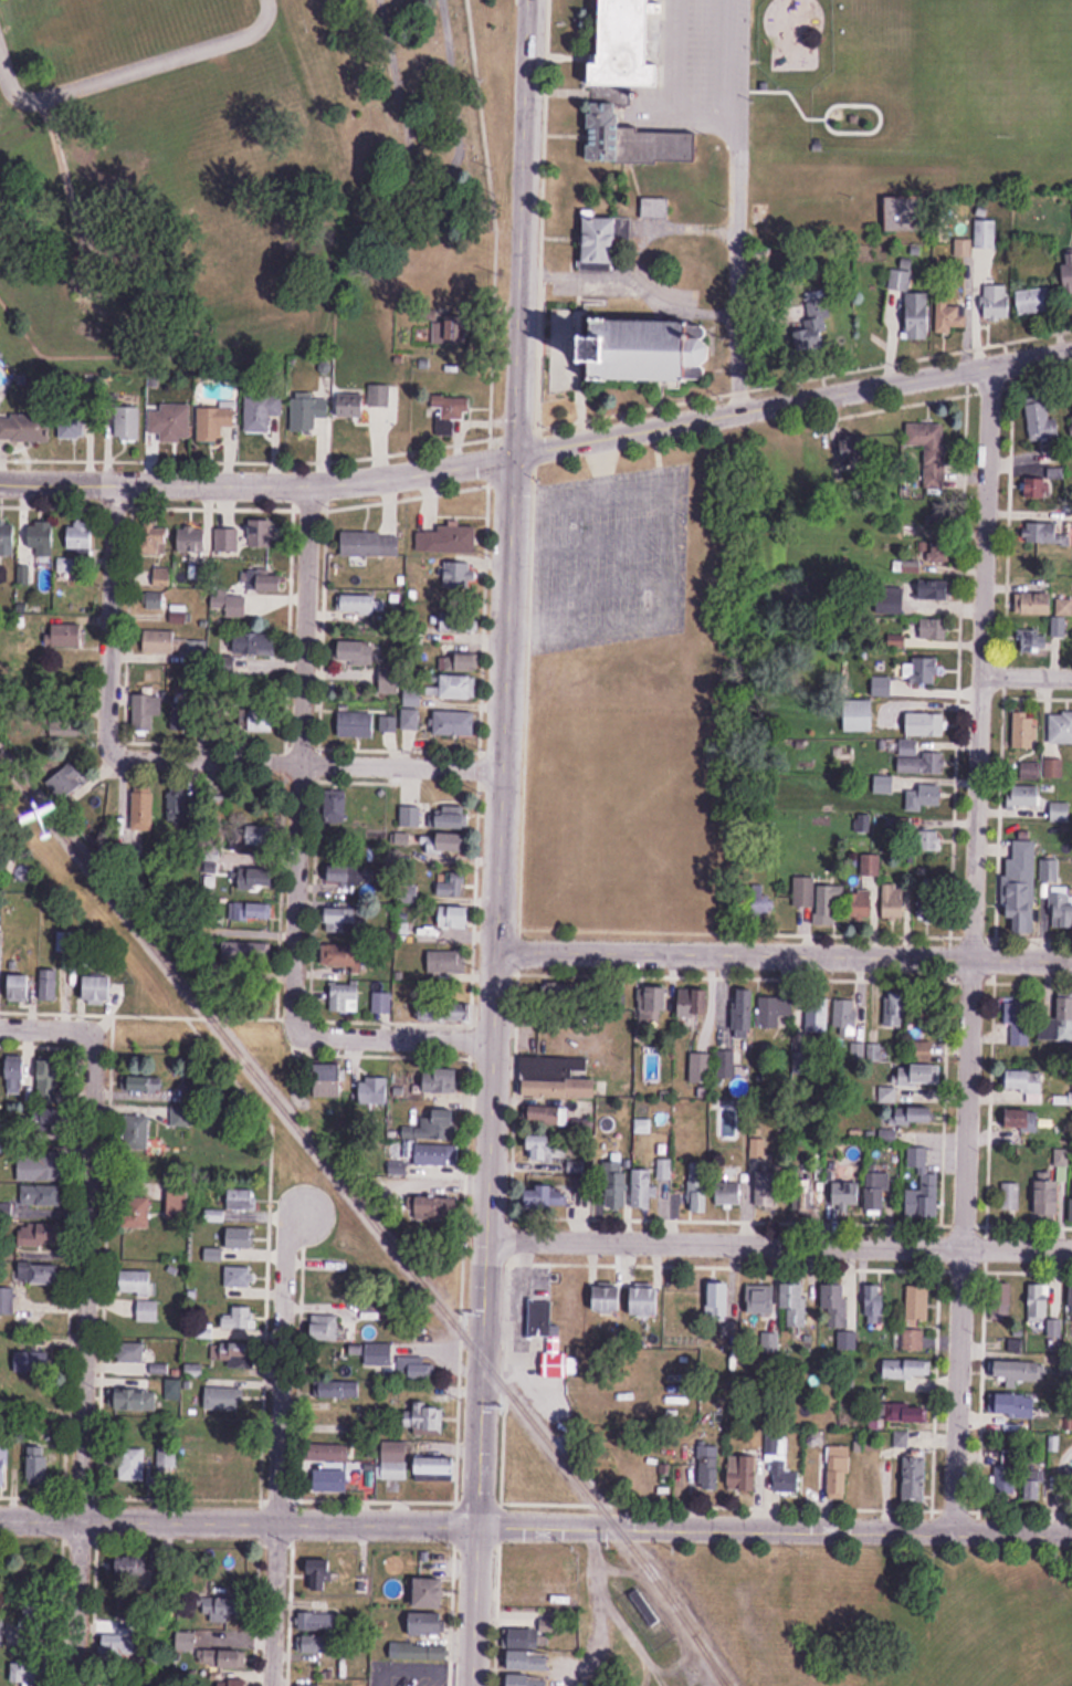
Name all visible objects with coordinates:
building: (634, 45)
road: (137, 69)
building: (608, 130)
park: (237, 153)
road: (729, 203)
building: (655, 207)
building: (907, 212)
road: (523, 224)
building: (603, 239)
building: (1068, 272)
building: (900, 280)
building: (1034, 301)
building: (995, 302)
building: (956, 313)
building: (917, 315)
building: (453, 328)
building: (800, 334)
building: (650, 348)
building: (565, 368)
road: (792, 394)
building: (383, 400)
building: (350, 405)
building: (452, 409)
building: (308, 411)
building: (262, 412)
building: (1041, 419)
building: (73, 422)
building: (170, 422)
building: (214, 422)
building: (127, 423)
building: (24, 428)
building: (931, 447)
building: (854, 450)
road: (258, 482)
building: (926, 506)
building: (80, 535)
building: (1044, 535)
building: (154, 537)
building: (41, 538)
building: (244, 538)
building: (8, 540)
building: (192, 540)
building: (449, 540)
building: (370, 544)
building: (939, 552)
building: (458, 575)
building: (162, 577)
building: (266, 582)
building: (936, 590)
building: (153, 601)
building: (362, 604)
building: (1048, 604)
building: (229, 606)
building: (178, 614)
road: (108, 615)
building: (460, 621)
building: (1055, 627)
building: (933, 628)
building: (69, 636)
building: (1034, 642)
building: (255, 643)
building: (176, 646)
building: (358, 652)
building: (922, 670)
road: (1026, 671)
building: (390, 680)
building: (883, 685)
building: (459, 687)
road: (503, 695)
building: (412, 697)
building: (145, 713)
building: (860, 715)
building: (183, 716)
building: (263, 720)
building: (410, 720)
building: (455, 723)
building: (925, 723)
building: (356, 725)
building: (1060, 727)
building: (64, 733)
road: (301, 757)
building: (918, 760)
road: (305, 761)
building: (1053, 768)
building: (1034, 771)
building: (65, 782)
building: (1023, 795)
building: (924, 797)
building: (337, 803)
building: (141, 807)
building: (179, 807)
building: (1060, 811)
building: (410, 817)
building: (451, 817)
building: (261, 837)
building: (926, 840)
building: (448, 844)
building: (255, 873)
building: (345, 875)
building: (449, 887)
building: (1020, 887)
building: (819, 900)
building: (895, 901)
building: (932, 903)
building: (761, 905)
building: (1061, 907)
building: (252, 911)
building: (455, 918)
building: (341, 920)
road: (973, 942)
road: (784, 950)
building: (246, 951)
building: (340, 955)
building: (446, 962)
building: (49, 984)
building: (22, 987)
building: (99, 989)
building: (568, 991)
building: (343, 996)
building: (381, 1003)
building: (653, 1003)
building: (690, 1007)
building: (445, 1013)
building: (744, 1013)
building: (777, 1013)
building: (894, 1013)
building: (817, 1016)
building: (847, 1017)
building: (1019, 1022)
building: (1058, 1023)
road: (48, 1029)
road: (390, 1034)
building: (726, 1064)
building: (701, 1068)
building: (15, 1072)
building: (921, 1075)
building: (55, 1080)
building: (327, 1080)
building: (555, 1081)
building: (1023, 1081)
building: (442, 1082)
building: (148, 1085)
building: (371, 1090)
building: (187, 1106)
building: (923, 1113)
building: (549, 1114)
building: (1023, 1118)
building: (438, 1124)
building: (582, 1128)
building: (136, 1132)
building: (540, 1148)
building: (438, 1154)
building: (39, 1163)
building: (575, 1166)
building: (642, 1188)
building: (697, 1188)
building: (768, 1190)
building: (611, 1193)
building: (731, 1193)
building: (869, 1194)
building: (40, 1195)
building: (1010, 1195)
building: (549, 1196)
building: (1048, 1196)
building: (924, 1197)
building: (242, 1200)
building: (178, 1206)
building: (438, 1209)
building: (135, 1212)
railway: (369, 1216)
building: (39, 1236)
building: (240, 1237)
road: (779, 1242)
building: (39, 1273)
building: (239, 1277)
building: (137, 1281)
building: (609, 1298)
building: (760, 1299)
building: (647, 1300)
building: (719, 1300)
building: (875, 1300)
building: (7, 1301)
building: (1069, 1301)
building: (1039, 1302)
building: (917, 1303)
building: (796, 1306)
building: (838, 1306)
building: (148, 1311)
road: (485, 1315)
building: (240, 1318)
building: (540, 1318)
building: (324, 1328)
building: (914, 1340)
building: (769, 1342)
building: (129, 1352)
building: (235, 1353)
building: (370, 1354)
road: (86, 1359)
building: (32, 1363)
building: (556, 1365)
building: (414, 1368)
building: (906, 1369)
building: (1021, 1374)
building: (340, 1389)
building: (136, 1400)
building: (225, 1400)
building: (1018, 1406)
building: (908, 1413)
building: (423, 1418)
building: (900, 1438)
building: (328, 1452)
road: (278, 1456)
building: (167, 1457)
building: (396, 1460)
building: (780, 1463)
building: (3, 1465)
building: (39, 1465)
building: (133, 1465)
building: (708, 1466)
building: (434, 1468)
building: (1010, 1468)
building: (835, 1470)
building: (744, 1472)
building: (915, 1479)
building: (332, 1480)
building: (1033, 1486)
building: (1068, 1487)
road: (237, 1518)
road: (771, 1528)
road: (853, 1543)
building: (130, 1565)
building: (319, 1575)
building: (432, 1593)
building: (224, 1609)
park: (877, 1614)
building: (319, 1621)
building: (524, 1637)
building: (318, 1644)
building: (111, 1647)
railway: (707, 1658)
building: (233, 1661)
building: (529, 1661)
building: (28, 1673)
building: (232, 1684)
park: (1068, 1684)
building: (320, 1685)

